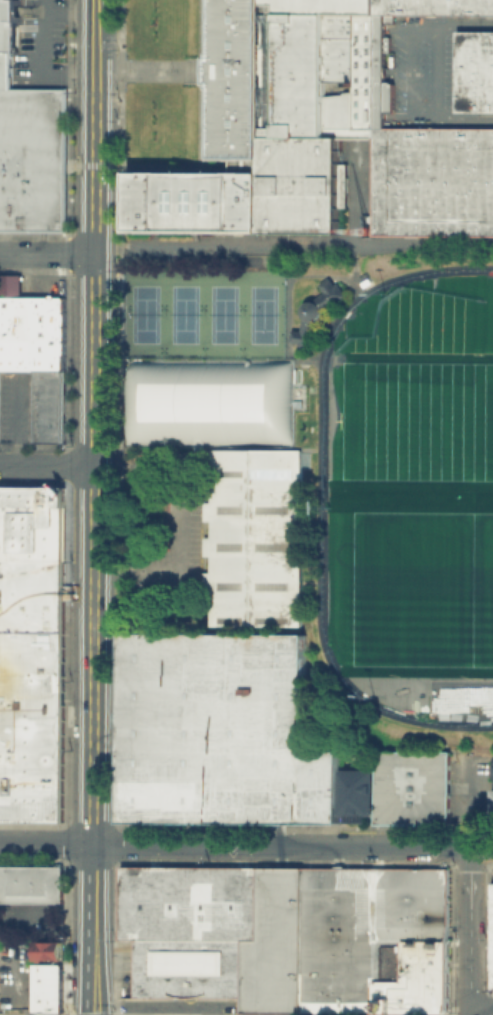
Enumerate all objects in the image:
road: (95, 3)
parking lot: (43, 29)
road: (95, 40)
road: (43, 62)
road: (139, 69)
road: (412, 69)
parking lot: (423, 69)
road: (201, 70)
road: (437, 70)
building: (475, 70)
building: (318, 131)
building: (29, 143)
road: (422, 244)
road: (291, 245)
road: (47, 252)
road: (251, 260)
road: (351, 274)
road: (330, 276)
building: (313, 310)
building: (31, 332)
park: (207, 359)
park: (432, 359)
park: (491, 364)
parking lot: (17, 406)
building: (48, 406)
park: (417, 421)
park: (422, 421)
road: (94, 459)
road: (47, 464)
park: (397, 492)
road: (319, 497)
track: (321, 501)
building: (254, 537)
parking lot: (166, 540)
road: (162, 566)
park: (421, 589)
building: (30, 652)
building: (247, 743)
road: (461, 744)
building: (492, 765)
road: (470, 803)
building: (491, 805)
road: (46, 845)
road: (292, 847)
parking lot: (492, 875)
building: (29, 883)
road: (90, 929)
road: (470, 932)
building: (287, 938)
building: (492, 943)
building: (50, 949)
parking lot: (14, 978)
building: (44, 987)
road: (489, 1013)

